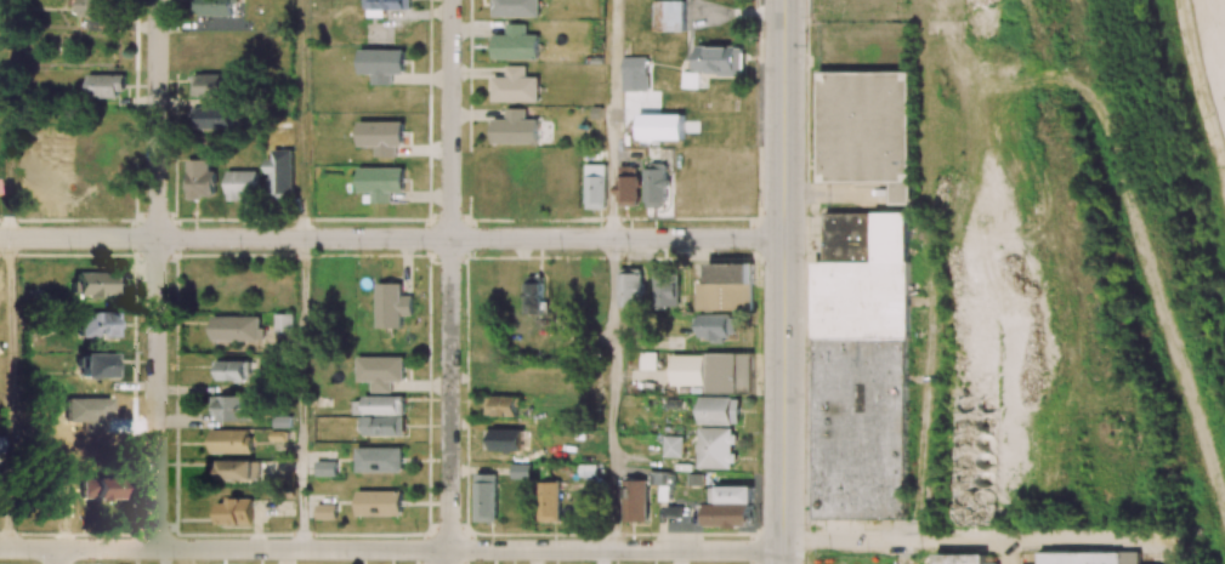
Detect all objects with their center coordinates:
building: (385, 6)
building: (101, 7)
building: (216, 7)
building: (515, 7)
building: (673, 15)
building: (515, 42)
building: (719, 59)
building: (381, 64)
building: (635, 73)
building: (214, 84)
building: (106, 85)
building: (515, 86)
building: (216, 118)
road: (8, 119)
road: (300, 119)
road: (612, 119)
building: (515, 127)
building: (867, 129)
building: (381, 137)
building: (279, 171)
building: (200, 178)
building: (381, 182)
building: (242, 184)
building: (656, 184)
building: (595, 186)
building: (629, 186)
road: (392, 239)
road: (157, 274)
road: (450, 275)
road: (784, 281)
building: (96, 284)
building: (665, 285)
building: (630, 287)
building: (726, 287)
building: (534, 295)
building: (392, 304)
building: (284, 323)
building: (97, 325)
building: (725, 325)
building: (236, 327)
building: (647, 360)
building: (97, 365)
building: (861, 368)
building: (233, 370)
building: (380, 371)
building: (713, 371)
road: (8, 394)
road: (301, 394)
road: (612, 394)
building: (384, 405)
building: (501, 405)
building: (232, 406)
building: (719, 410)
building: (382, 426)
building: (506, 439)
building: (229, 440)
building: (0, 445)
building: (673, 446)
building: (715, 448)
building: (379, 458)
building: (325, 467)
building: (238, 469)
building: (521, 471)
building: (98, 488)
building: (732, 494)
building: (486, 497)
building: (549, 499)
building: (635, 500)
building: (379, 502)
building: (236, 511)
building: (325, 511)
building: (730, 514)
road: (977, 542)
road: (392, 551)
road: (58, 557)
road: (446, 557)
building: (1082, 557)
building: (968, 558)
street lamp: (29, 562)

